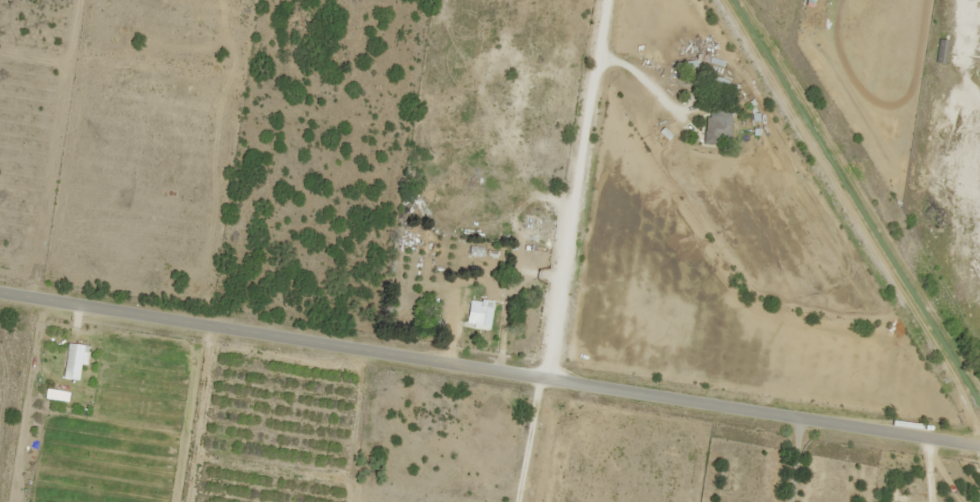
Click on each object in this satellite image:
building: (941, 51)
building: (715, 129)
building: (478, 312)
building: (434, 319)
road: (489, 379)

